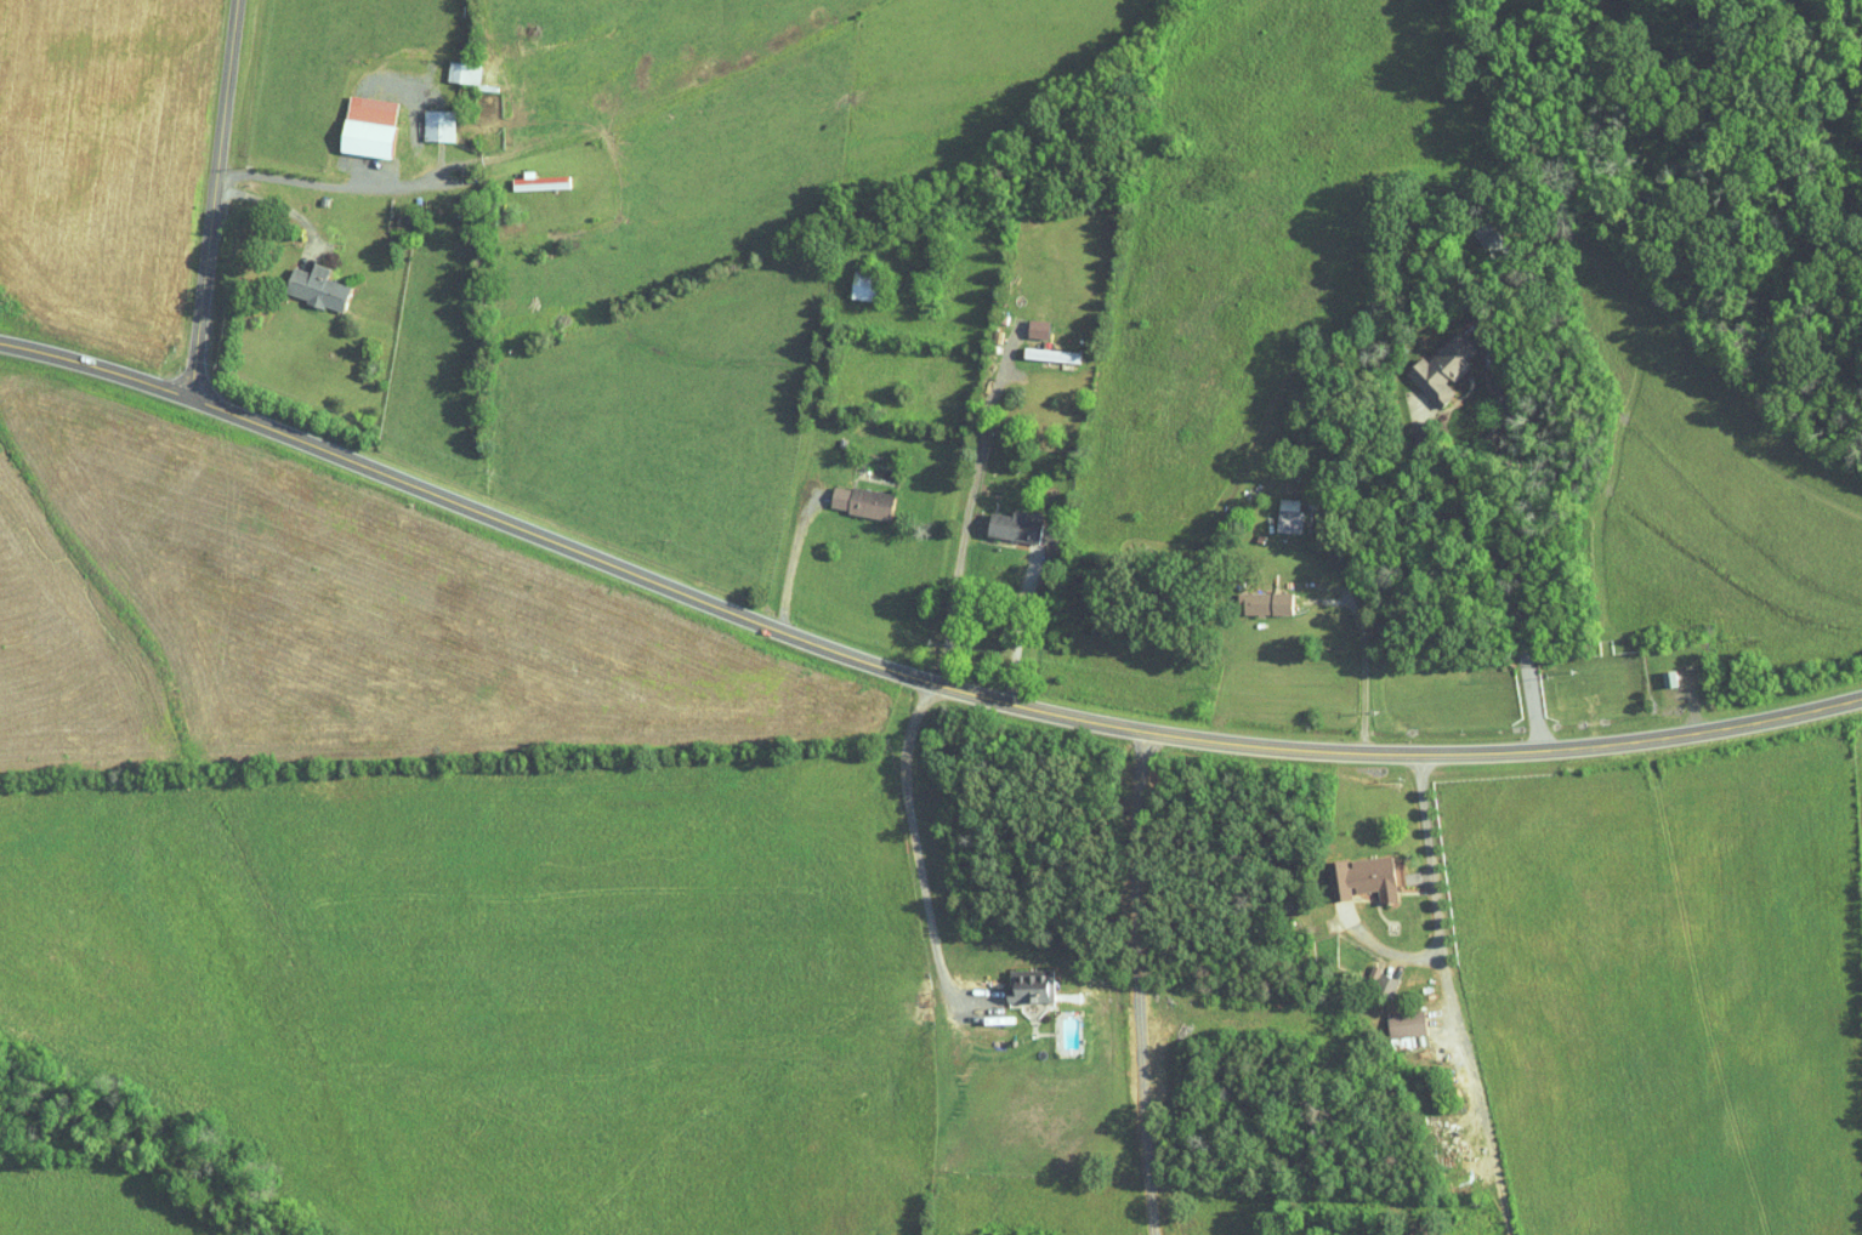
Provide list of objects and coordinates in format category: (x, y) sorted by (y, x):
building: (447, 64)
building: (352, 118)
building: (424, 118)
building: (523, 173)
road: (337, 186)
road: (259, 197)
road: (212, 199)
building: (1472, 227)
building: (848, 278)
building: (300, 279)
building: (1035, 347)
road: (310, 359)
building: (1426, 360)
building: (846, 494)
road: (965, 507)
building: (1273, 507)
building: (998, 518)
road: (808, 567)
road: (1492, 569)
building: (1265, 596)
building: (1237, 602)
road: (1020, 617)
road: (1361, 638)
road: (907, 675)
road: (916, 844)
building: (1346, 871)
road: (1435, 914)
building: (1016, 979)
building: (1390, 1015)

